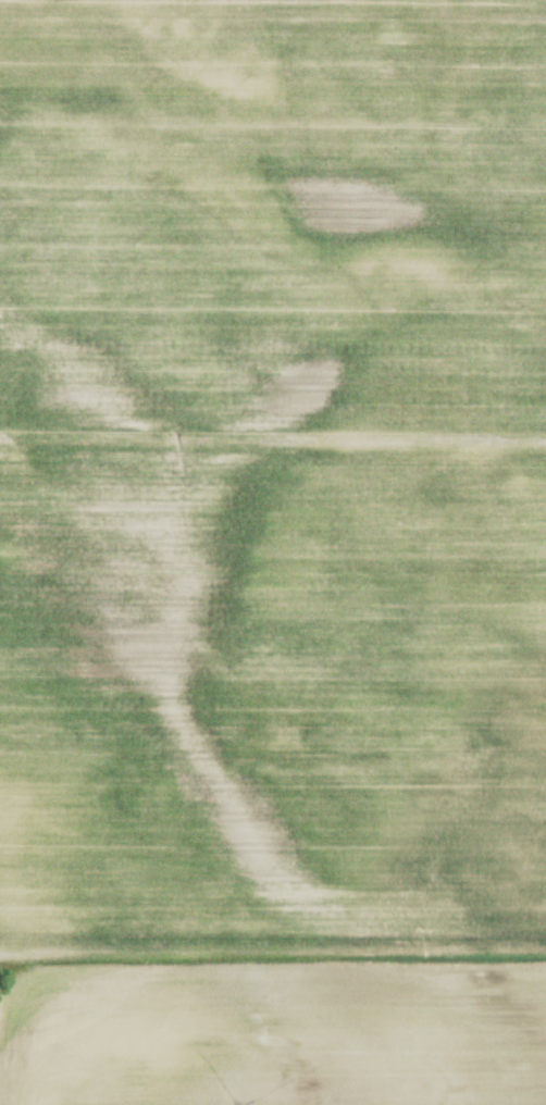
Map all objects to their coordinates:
road: (273, 439)
road: (293, 973)

